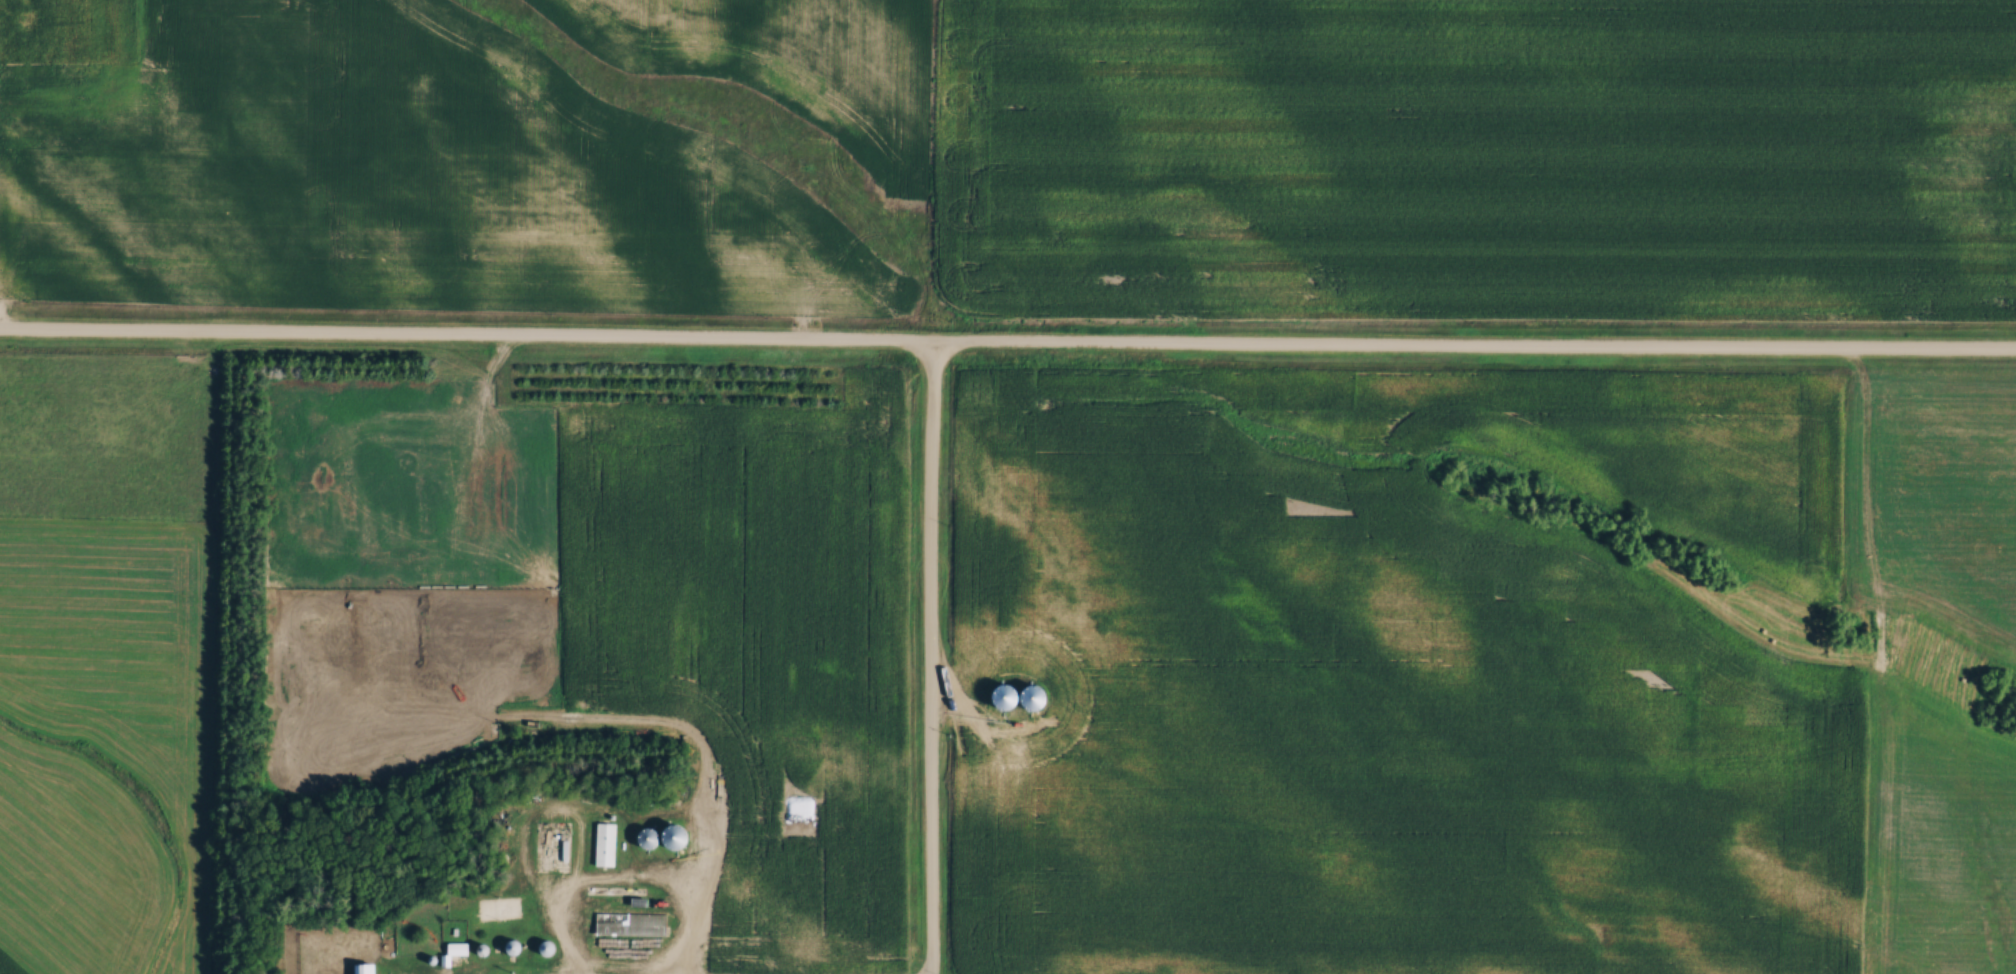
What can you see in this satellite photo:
building: (33, 22)
road: (1007, 345)
road: (930, 659)
building: (1010, 697)
building: (605, 845)
building: (629, 925)
building: (367, 969)

